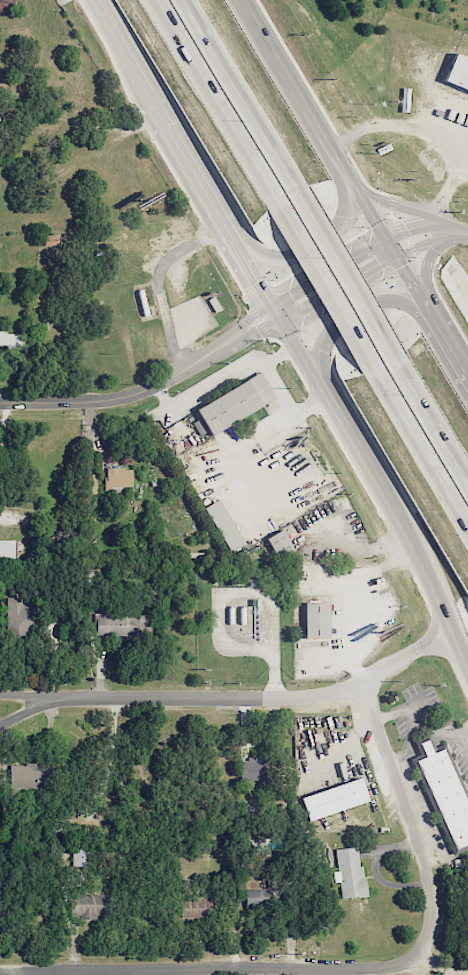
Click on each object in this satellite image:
building: (4, 5)
road: (120, 45)
building: (456, 69)
road: (236, 94)
road: (215, 99)
road: (315, 119)
road: (183, 152)
road: (408, 208)
road: (441, 227)
road: (455, 231)
traffic signals: (386, 238)
road: (304, 248)
traffic signals: (396, 257)
road: (246, 258)
road: (427, 259)
road: (339, 269)
road: (404, 271)
road: (322, 279)
traffic signals: (272, 304)
road: (350, 318)
traffic signals: (281, 320)
road: (433, 321)
road: (233, 337)
building: (11, 339)
road: (455, 358)
road: (184, 368)
road: (219, 383)
road: (66, 401)
building: (227, 405)
road: (427, 419)
road: (2, 420)
road: (245, 443)
road: (419, 444)
building: (118, 477)
road: (374, 480)
building: (92, 484)
building: (223, 525)
building: (279, 544)
building: (7, 548)
road: (357, 551)
road: (348, 576)
building: (16, 617)
building: (314, 618)
building: (122, 625)
road: (32, 696)
road: (266, 699)
road: (32, 711)
road: (416, 716)
road: (462, 730)
road: (409, 745)
road: (462, 745)
building: (254, 769)
building: (26, 777)
building: (443, 794)
building: (332, 798)
building: (79, 857)
building: (349, 872)
building: (259, 897)
building: (89, 905)
building: (194, 908)
road: (353, 969)
road: (368, 972)

